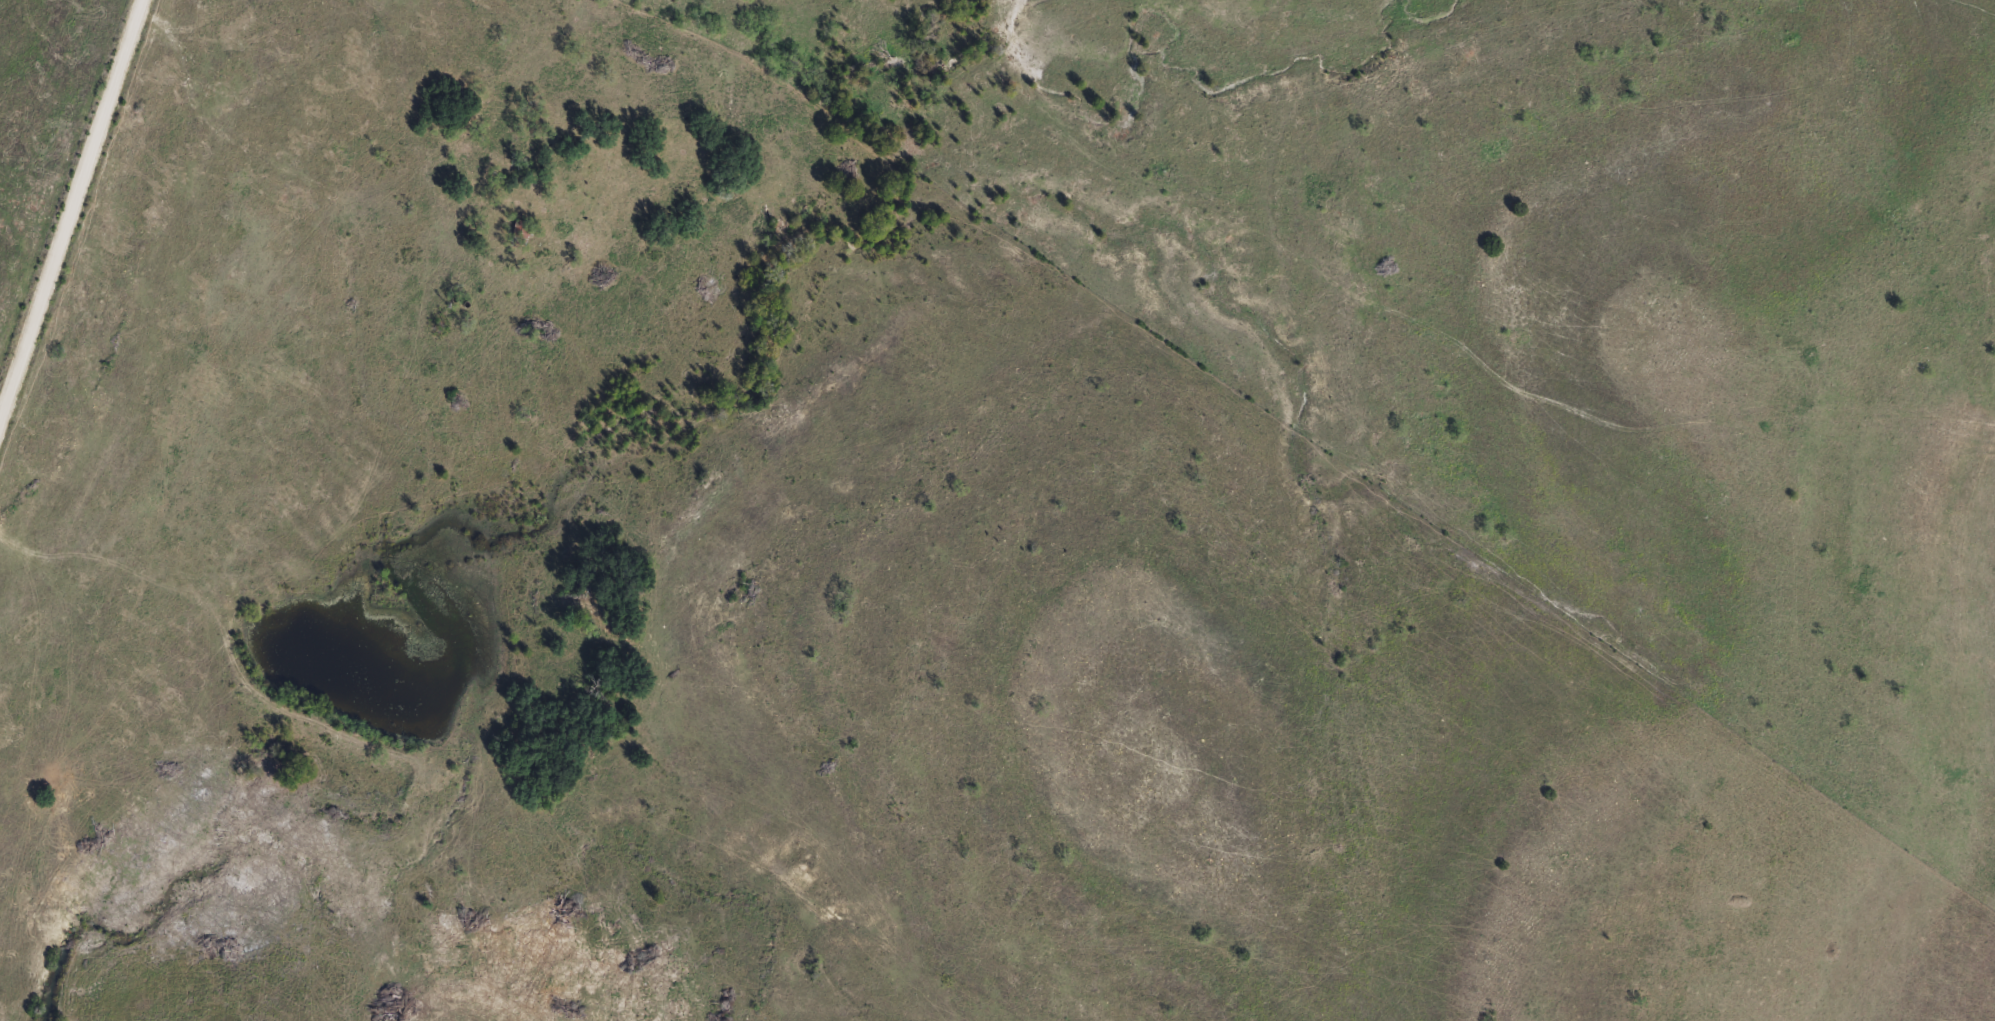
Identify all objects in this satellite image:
road: (69, 207)

